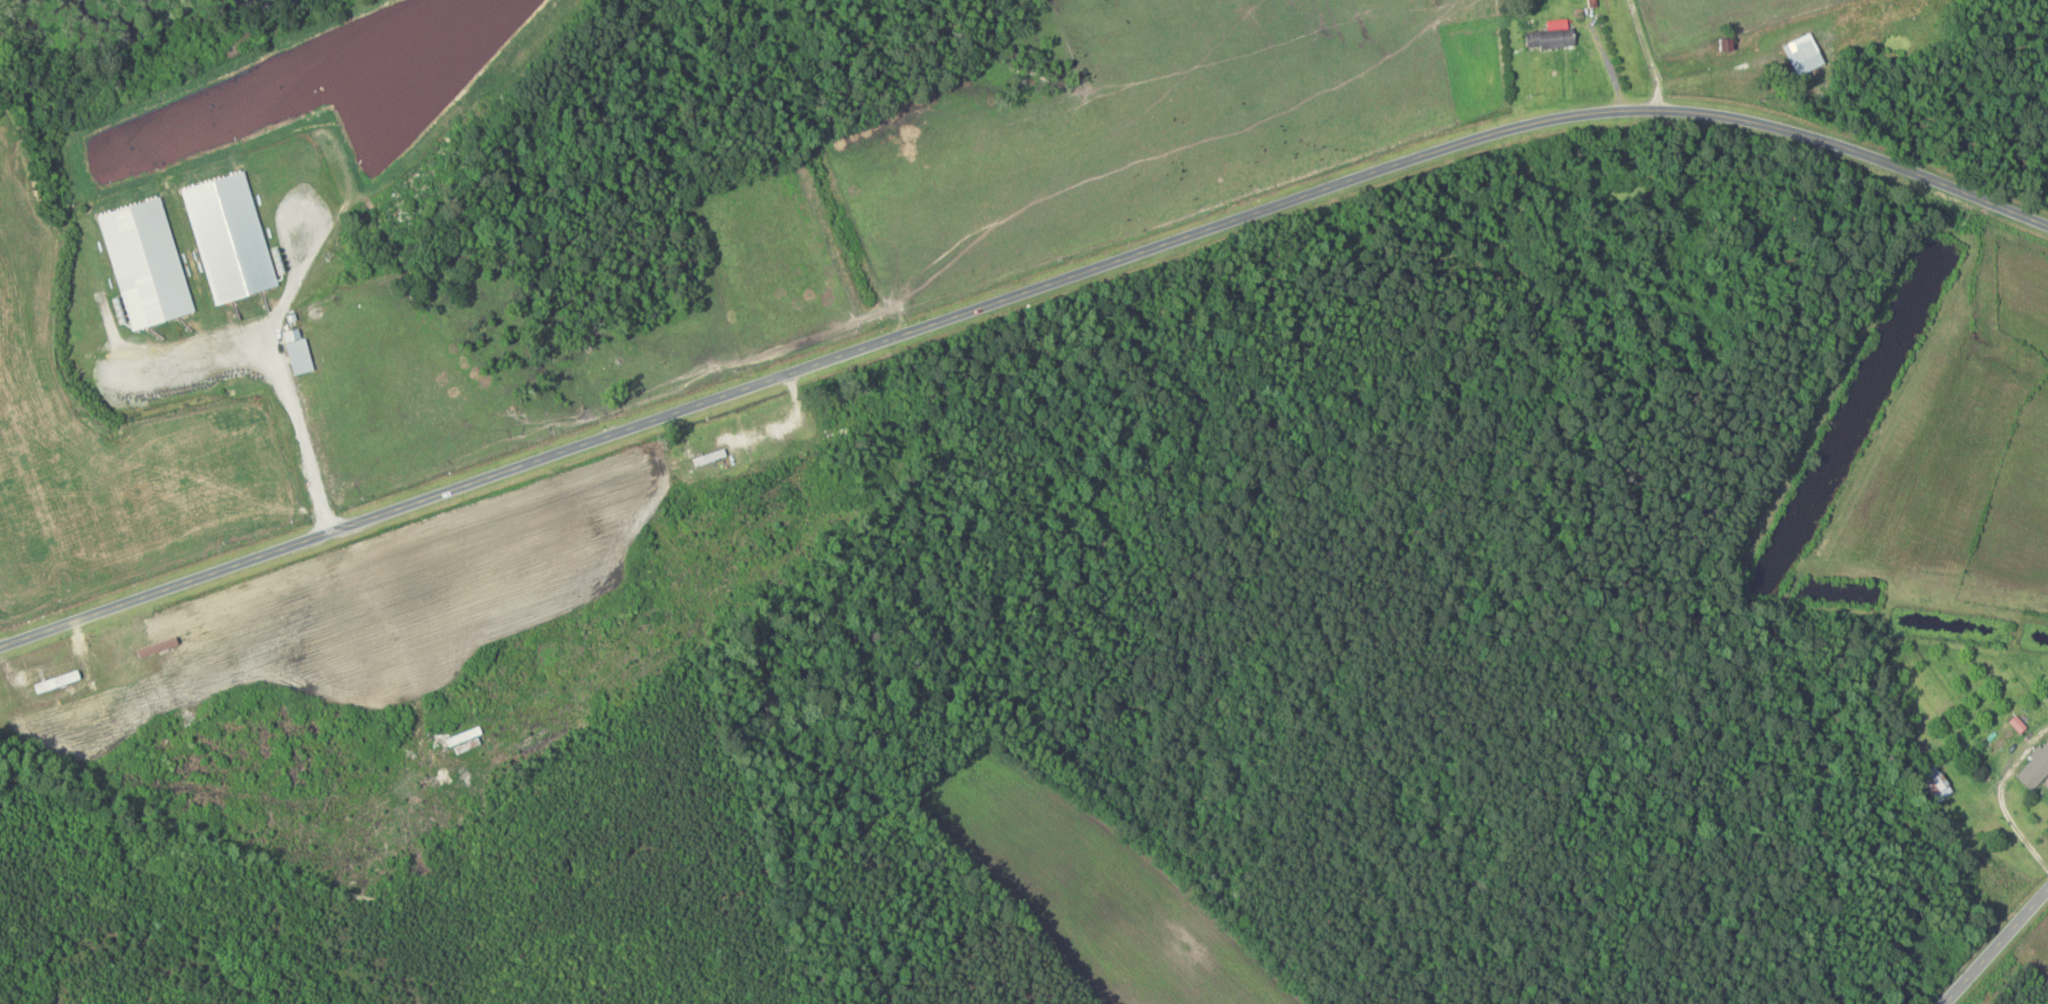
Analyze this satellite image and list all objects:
road: (1024, 305)
road: (1995, 946)

